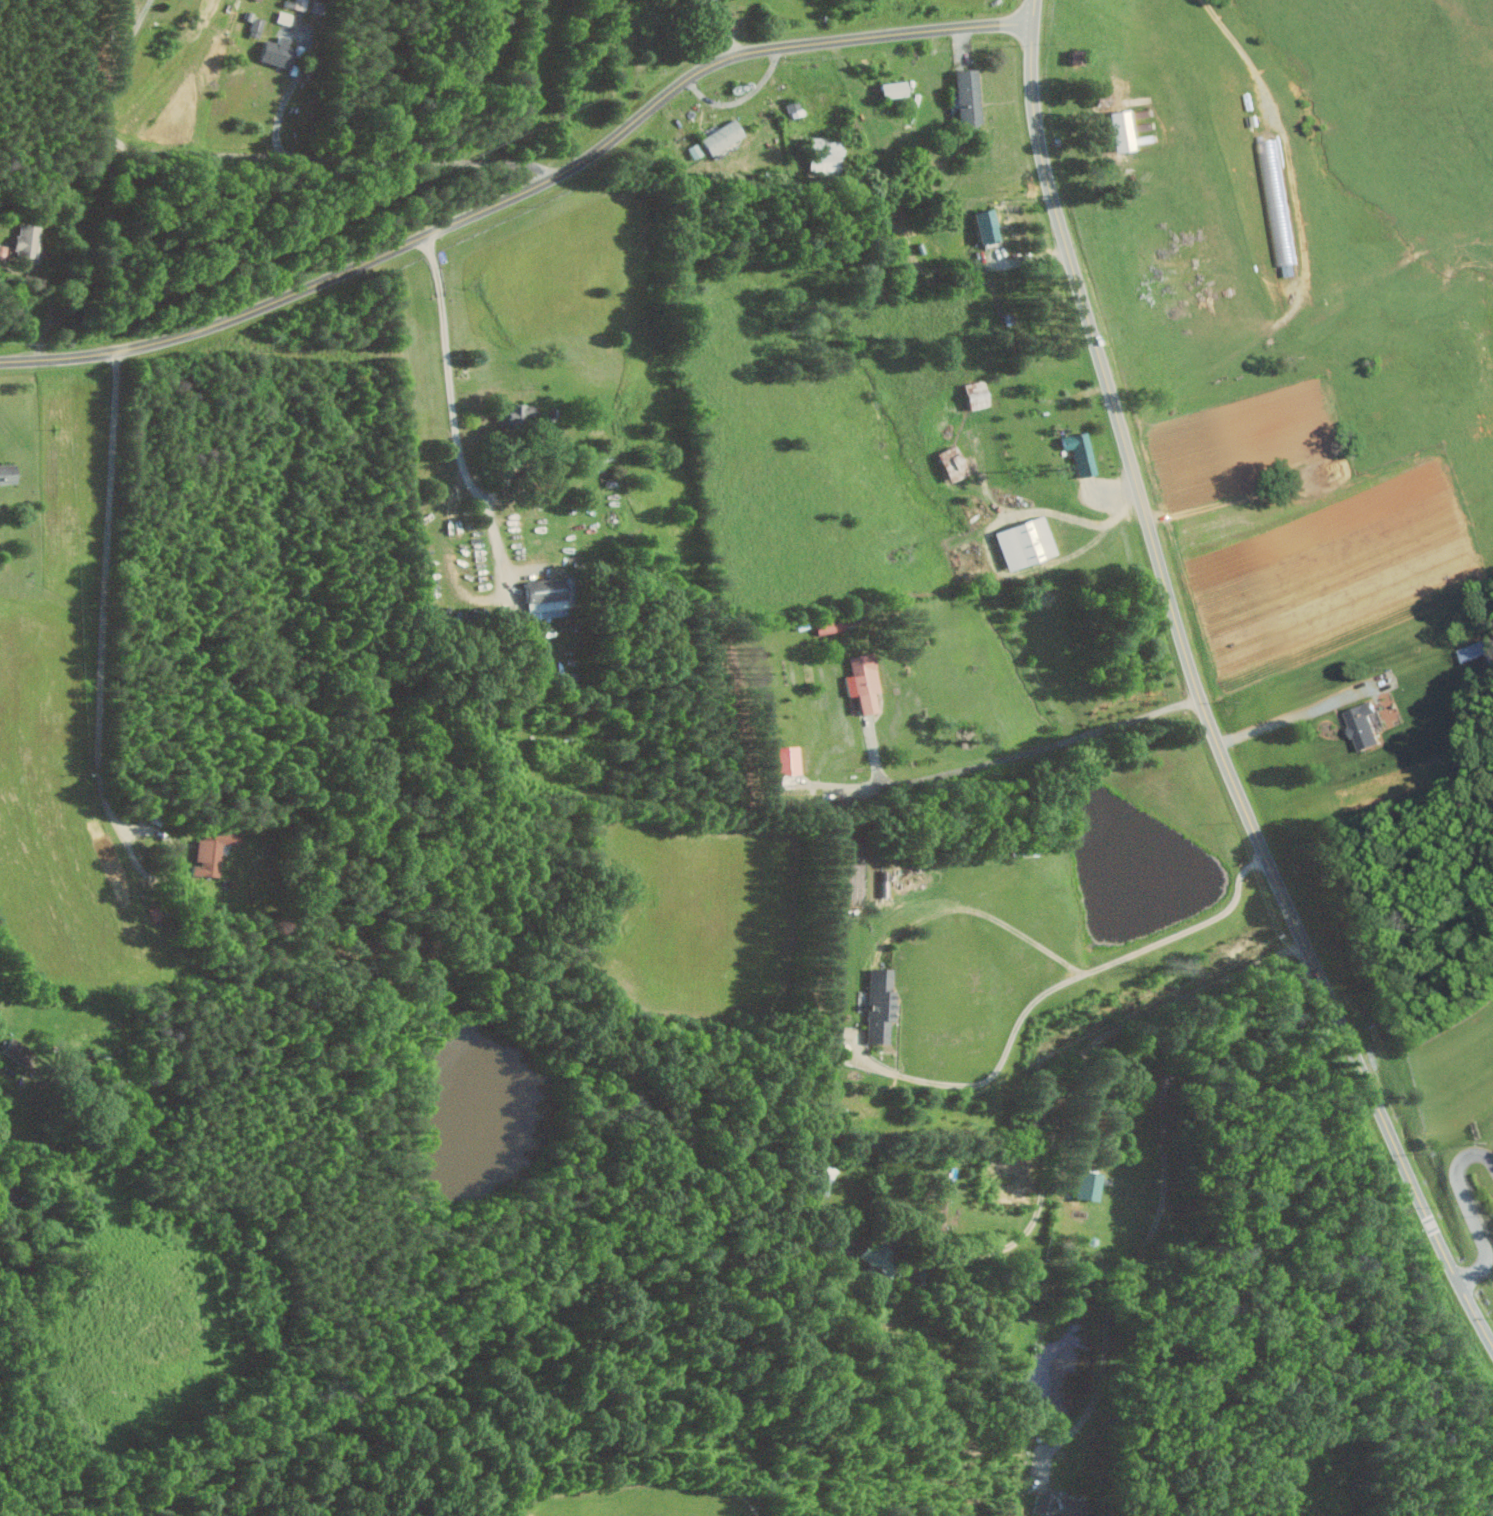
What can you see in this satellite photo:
building: (697, 0)
building: (286, 18)
building: (279, 52)
building: (897, 89)
building: (970, 96)
road: (743, 99)
building: (1133, 128)
building: (725, 136)
road: (128, 145)
building: (696, 150)
road: (358, 158)
road: (523, 192)
building: (990, 226)
building: (29, 240)
road: (1298, 292)
road: (53, 296)
road: (455, 411)
building: (520, 416)
building: (1083, 454)
building: (956, 463)
building: (9, 474)
building: (1029, 544)
road: (998, 570)
road: (106, 597)
building: (549, 598)
building: (865, 681)
road: (1200, 692)
road: (1276, 723)
building: (1357, 724)
road: (1013, 756)
building: (790, 760)
building: (212, 852)
road: (982, 909)
road: (1051, 989)
building: (883, 1003)
building: (19, 1050)
road: (1075, 1081)
building: (1091, 1185)
road: (1168, 1189)
road: (1471, 1210)
building: (876, 1256)
building: (1060, 1506)

